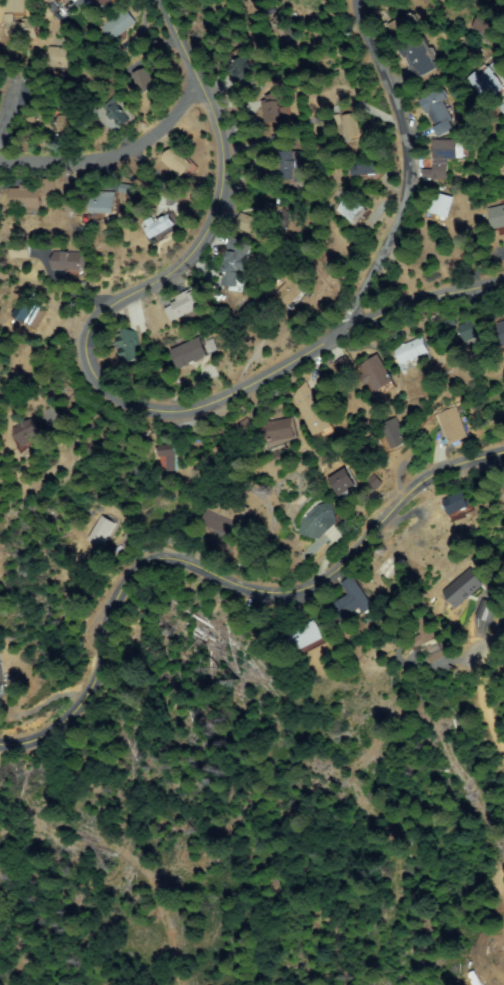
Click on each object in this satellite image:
building: (50, 2)
building: (101, 2)
building: (16, 5)
building: (119, 23)
building: (403, 24)
building: (487, 24)
building: (281, 25)
building: (23, 28)
road: (169, 54)
building: (57, 56)
building: (418, 58)
building: (239, 64)
building: (144, 79)
building: (488, 86)
building: (50, 90)
building: (272, 108)
building: (116, 112)
building: (439, 112)
road: (11, 119)
building: (71, 123)
building: (31, 124)
building: (351, 125)
building: (280, 141)
road: (102, 157)
building: (502, 157)
building: (444, 158)
building: (179, 162)
building: (365, 163)
road: (406, 164)
building: (288, 165)
building: (129, 188)
building: (32, 194)
building: (104, 201)
building: (441, 206)
building: (351, 207)
building: (497, 218)
building: (267, 220)
building: (246, 222)
building: (161, 227)
building: (21, 250)
building: (73, 261)
building: (235, 262)
building: (293, 291)
building: (186, 304)
building: (29, 308)
building: (502, 328)
building: (473, 329)
building: (131, 350)
building: (411, 350)
building: (191, 352)
building: (345, 364)
building: (378, 377)
road: (133, 396)
building: (314, 413)
building: (451, 425)
building: (28, 429)
building: (277, 430)
building: (396, 434)
building: (413, 454)
building: (168, 455)
building: (345, 483)
building: (503, 490)
building: (457, 503)
building: (229, 516)
building: (320, 521)
building: (102, 530)
road: (219, 568)
building: (387, 568)
building: (462, 588)
building: (352, 601)
building: (485, 610)
road: (455, 632)
building: (306, 636)
building: (429, 639)
building: (1, 680)

